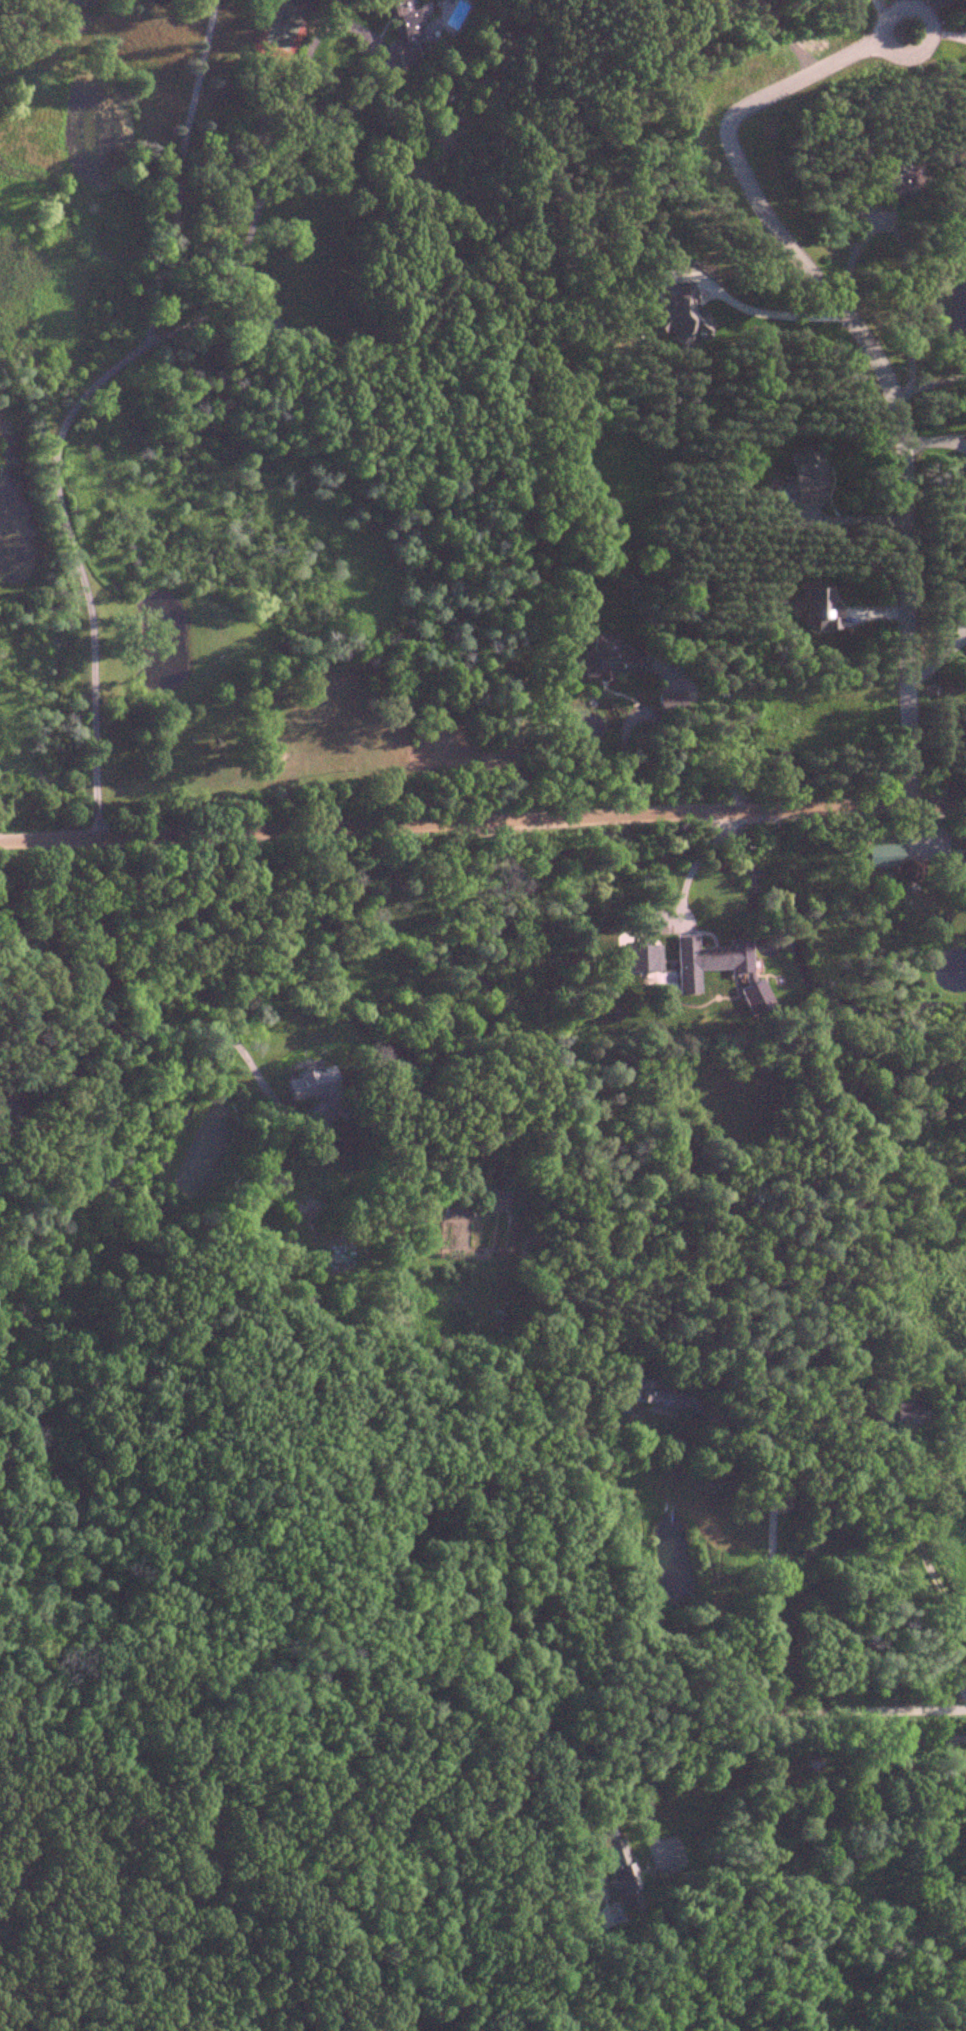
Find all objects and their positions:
building: (413, 26)
road: (896, 46)
road: (442, 91)
road: (247, 200)
building: (854, 211)
road: (852, 257)
road: (750, 308)
road: (862, 350)
road: (920, 378)
road: (77, 408)
building: (804, 475)
building: (611, 659)
road: (691, 742)
road: (634, 745)
road: (483, 822)
road: (703, 855)
building: (880, 855)
building: (960, 872)
building: (641, 959)
building: (707, 962)
road: (184, 980)
building: (309, 1084)
building: (655, 1397)
building: (893, 1416)
road: (771, 1551)
road: (934, 1574)
road: (589, 1709)
road: (784, 1743)
building: (617, 1867)

